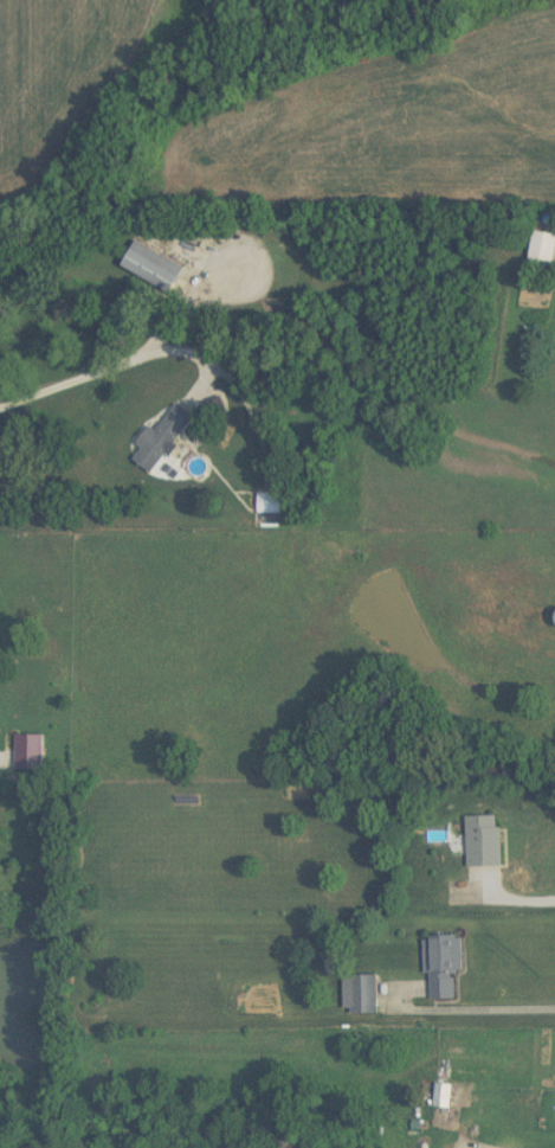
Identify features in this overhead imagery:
building: (543, 246)
building: (154, 267)
road: (192, 282)
building: (162, 435)
building: (269, 502)
building: (484, 841)
road: (516, 889)
building: (445, 967)
building: (361, 994)
road: (486, 998)
building: (444, 1096)

